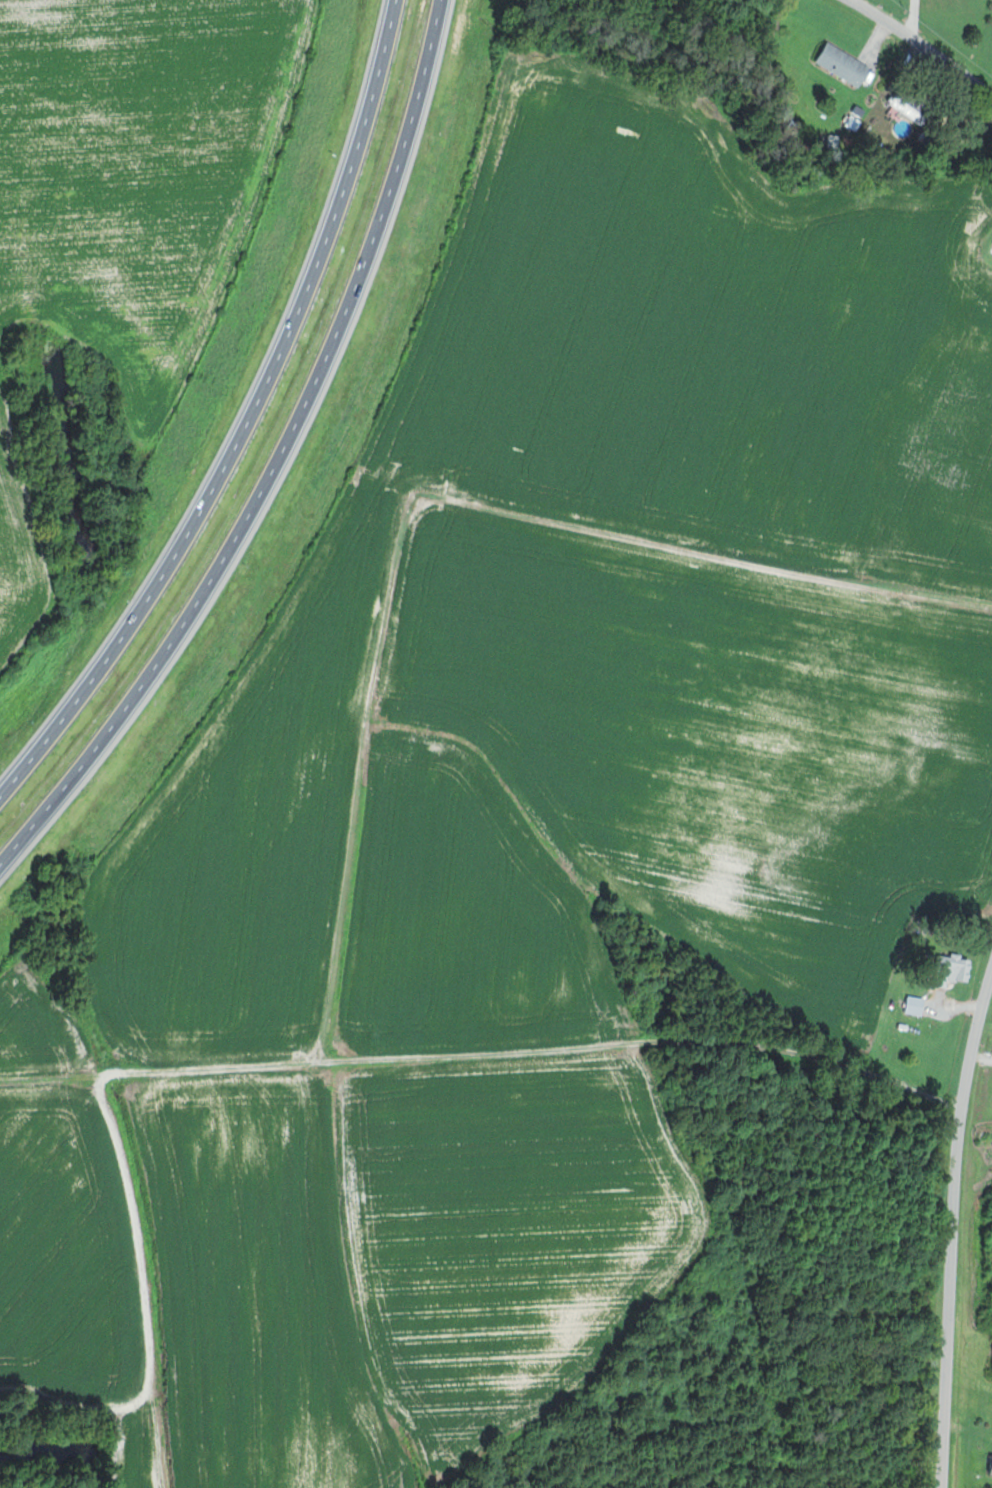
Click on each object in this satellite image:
road: (918, 16)
road: (928, 41)
building: (845, 65)
building: (912, 106)
road: (252, 423)
road: (282, 472)
building: (958, 967)
building: (917, 1006)
road: (484, 1069)
road: (953, 1233)

